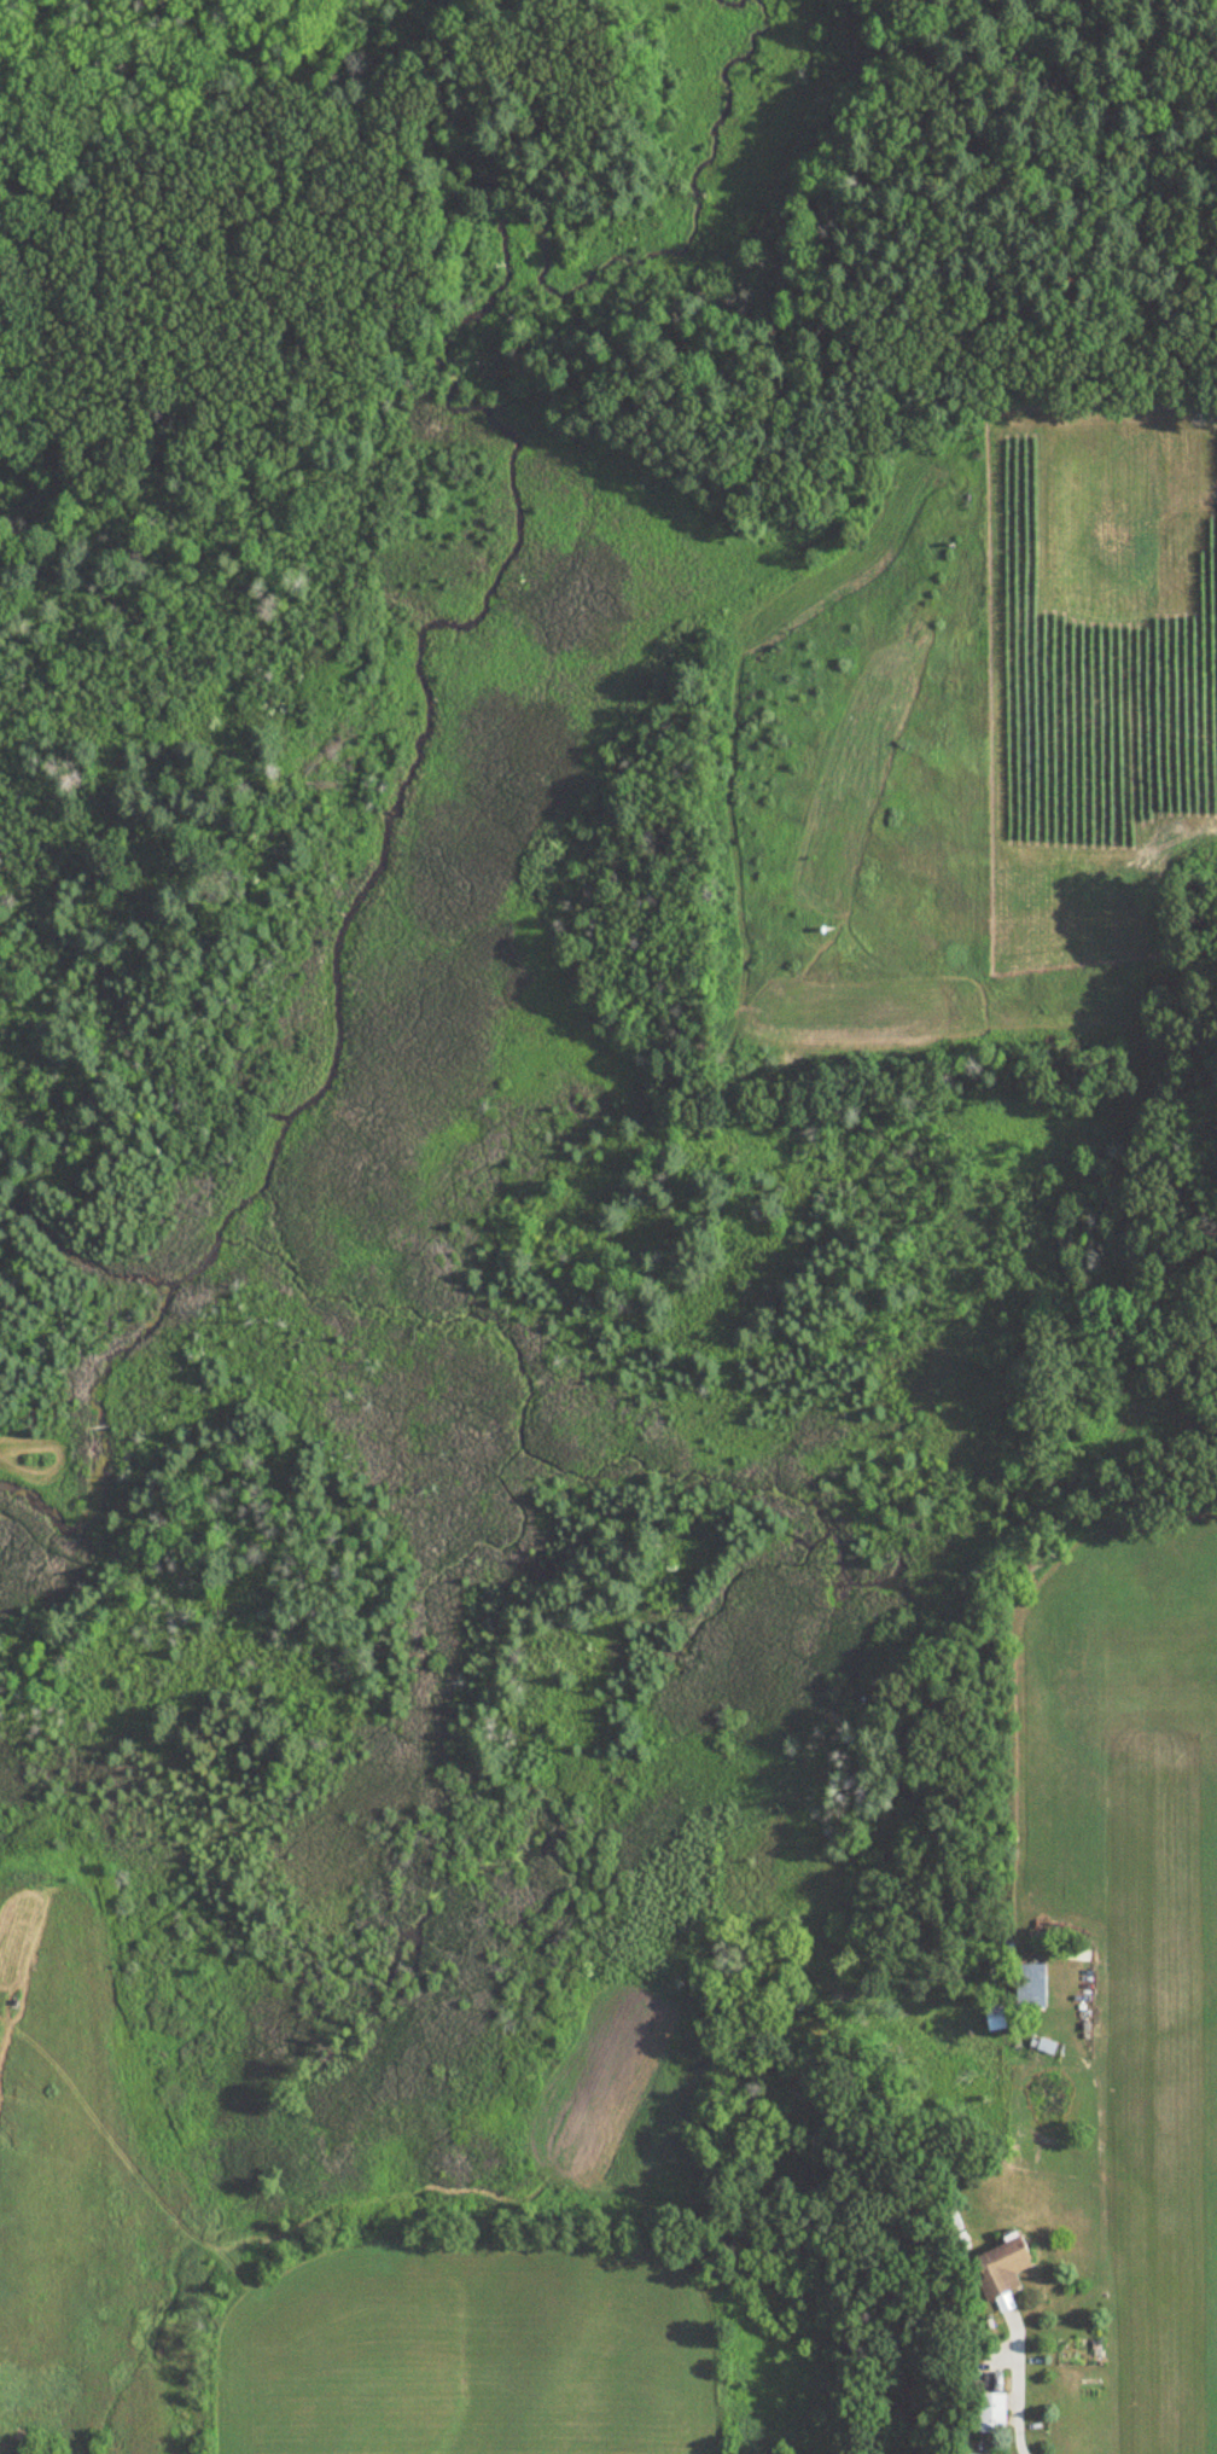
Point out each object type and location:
building: (1067, 1953)
building: (1030, 1985)
building: (994, 2017)
building: (998, 2268)
road: (1015, 2376)
building: (990, 2413)
building: (835, 2414)

